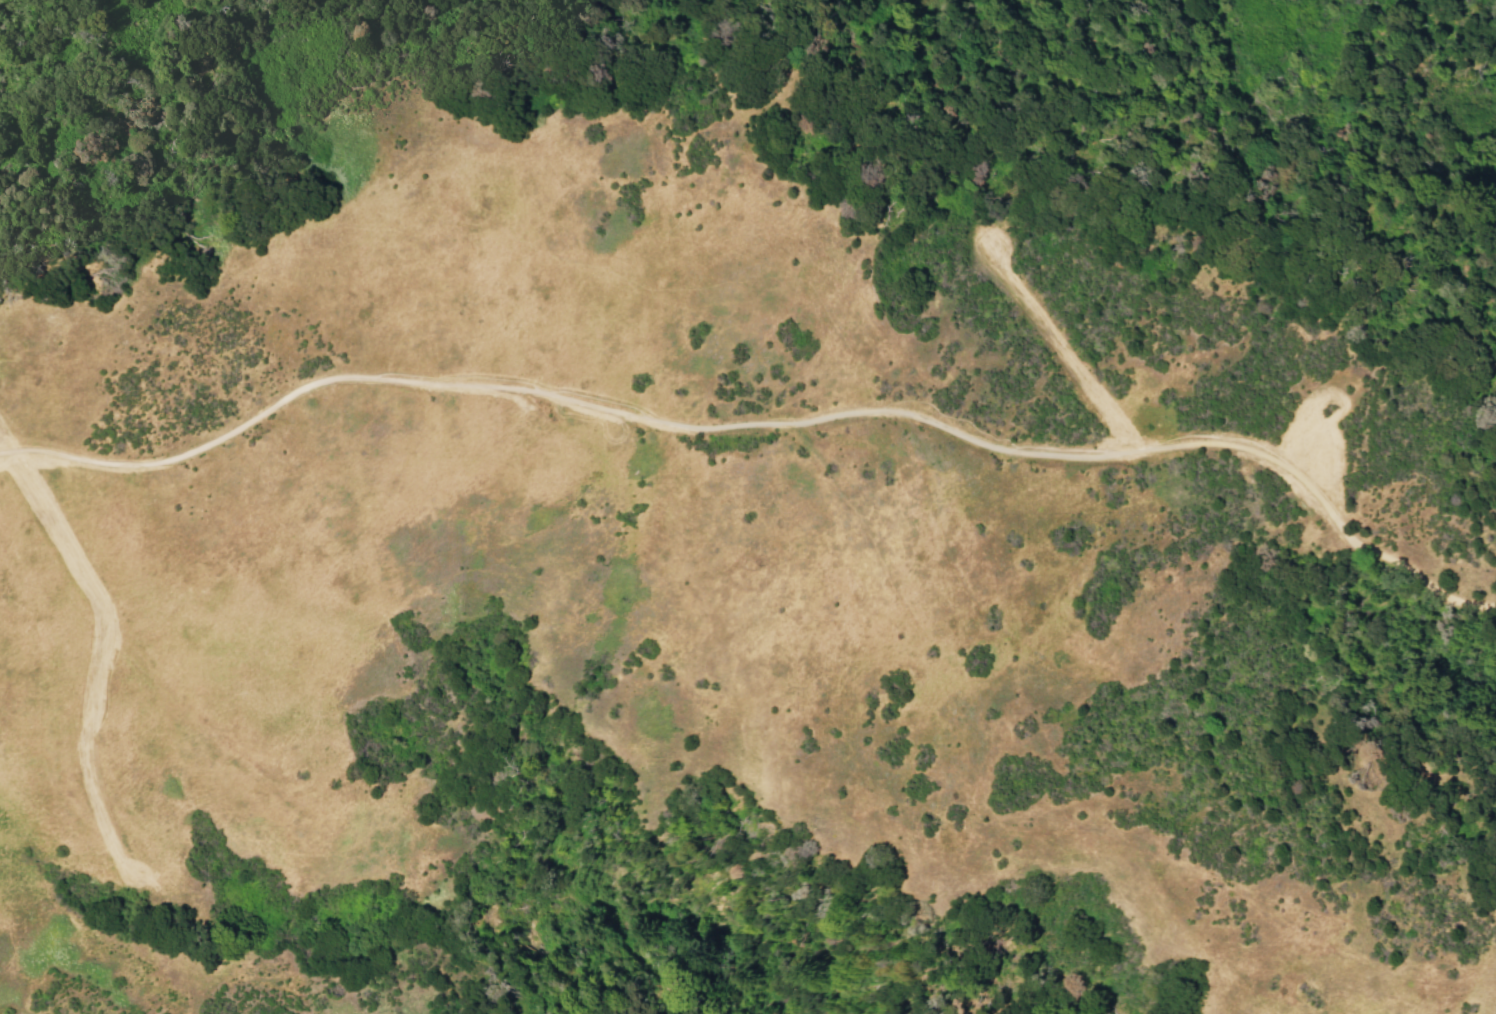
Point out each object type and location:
road: (766, 424)

